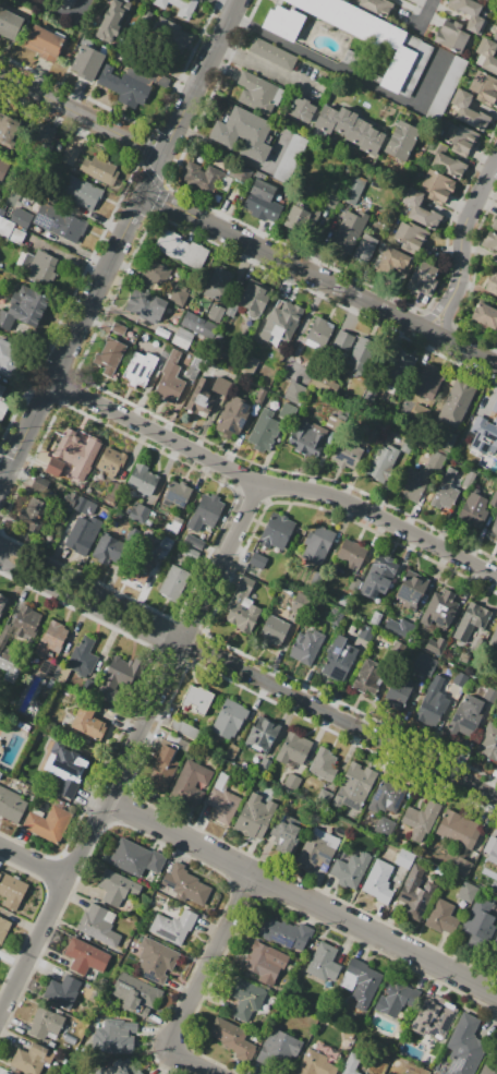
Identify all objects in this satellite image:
building: (403, 0)
building: (483, 0)
building: (68, 3)
building: (376, 7)
building: (177, 8)
road: (426, 9)
building: (496, 11)
building: (469, 14)
road: (58, 16)
building: (5, 21)
building: (110, 21)
building: (282, 22)
building: (495, 34)
building: (168, 35)
building: (368, 35)
building: (450, 36)
building: (45, 44)
building: (274, 53)
building: (486, 56)
building: (87, 62)
road: (260, 65)
road: (348, 74)
road: (199, 77)
building: (131, 87)
building: (484, 87)
building: (445, 90)
building: (256, 92)
building: (300, 109)
building: (469, 111)
road: (80, 116)
building: (350, 129)
building: (11, 133)
building: (243, 134)
building: (44, 135)
building: (460, 138)
building: (402, 141)
building: (70, 155)
building: (289, 157)
building: (448, 166)
building: (3, 168)
building: (98, 168)
building: (240, 172)
road: (151, 174)
building: (202, 176)
building: (436, 186)
building: (353, 190)
building: (81, 192)
building: (258, 195)
building: (330, 198)
road: (470, 208)
building: (271, 210)
building: (421, 210)
building: (21, 217)
building: (295, 217)
building: (59, 222)
building: (5, 227)
building: (496, 228)
building: (349, 231)
building: (410, 237)
building: (489, 241)
building: (364, 248)
building: (180, 249)
road: (282, 257)
building: (397, 261)
building: (496, 265)
building: (39, 266)
building: (154, 277)
building: (423, 278)
building: (218, 283)
building: (492, 286)
building: (179, 294)
road: (444, 298)
building: (255, 299)
road: (454, 301)
building: (146, 305)
building: (24, 309)
building: (230, 311)
building: (215, 312)
building: (485, 316)
building: (288, 317)
building: (198, 326)
building: (118, 328)
building: (319, 330)
building: (161, 333)
road: (74, 334)
building: (183, 339)
building: (341, 340)
road: (459, 342)
building: (166, 350)
building: (299, 350)
building: (361, 354)
building: (109, 355)
building: (8, 359)
building: (247, 364)
building: (141, 365)
building: (399, 367)
building: (192, 370)
building: (171, 376)
building: (429, 381)
building: (325, 383)
building: (222, 386)
building: (294, 391)
building: (259, 396)
building: (4, 398)
building: (201, 398)
building: (456, 403)
building: (288, 412)
building: (232, 415)
building: (417, 415)
building: (334, 423)
building: (495, 425)
building: (264, 431)
building: (308, 438)
building: (496, 438)
building: (446, 441)
building: (407, 446)
building: (70, 447)
building: (346, 452)
building: (492, 455)
building: (381, 461)
building: (111, 462)
building: (53, 467)
road: (2, 474)
building: (419, 478)
building: (142, 479)
building: (469, 479)
road: (2, 480)
building: (40, 484)
road: (271, 487)
building: (445, 491)
building: (177, 494)
building: (494, 500)
building: (473, 509)
building: (205, 512)
building: (140, 514)
building: (33, 515)
building: (81, 522)
building: (173, 524)
building: (493, 529)
building: (277, 531)
building: (195, 542)
building: (317, 544)
building: (165, 546)
building: (107, 548)
building: (191, 554)
building: (351, 554)
building: (257, 560)
building: (138, 562)
building: (378, 577)
building: (173, 583)
building: (353, 583)
building: (411, 590)
building: (343, 600)
building: (2, 602)
building: (300, 603)
building: (242, 606)
building: (439, 608)
building: (335, 616)
building: (474, 616)
building: (375, 618)
building: (22, 625)
building: (400, 627)
building: (274, 630)
building: (365, 632)
building: (461, 632)
building: (49, 638)
building: (494, 638)
building: (436, 644)
building: (306, 647)
building: (397, 650)
building: (83, 657)
building: (339, 659)
building: (10, 664)
building: (424, 664)
building: (50, 669)
building: (369, 676)
road: (247, 678)
building: (460, 678)
building: (117, 679)
building: (397, 692)
building: (489, 695)
building: (197, 699)
building: (429, 710)
building: (469, 714)
building: (230, 719)
building: (87, 721)
building: (184, 729)
building: (262, 735)
building: (488, 743)
building: (293, 749)
building: (231, 751)
road: (130, 752)
building: (264, 764)
building: (323, 764)
building: (66, 767)
building: (162, 770)
building: (292, 782)
building: (191, 783)
building: (354, 786)
building: (325, 796)
building: (386, 797)
building: (221, 800)
building: (11, 805)
building: (253, 816)
building: (420, 821)
building: (49, 822)
building: (385, 826)
building: (459, 830)
building: (286, 837)
building: (317, 848)
building: (494, 854)
building: (136, 858)
building: (404, 859)
road: (33, 862)
building: (461, 867)
building: (350, 870)
building: (478, 872)
building: (496, 874)
building: (378, 881)
building: (185, 884)
building: (116, 888)
building: (11, 891)
building: (468, 892)
building: (414, 897)
road: (301, 902)
building: (441, 917)
building: (478, 921)
building: (98, 925)
building: (172, 926)
building: (3, 928)
building: (287, 932)
building: (495, 946)
building: (85, 956)
building: (156, 960)
building: (265, 962)
building: (323, 962)
building: (361, 982)
building: (60, 987)
road: (195, 989)
building: (136, 994)
building: (395, 998)
building: (246, 999)
building: (426, 1014)
building: (443, 1021)
building: (45, 1022)
building: (114, 1037)
building: (232, 1038)
building: (282, 1042)
building: (463, 1047)
building: (29, 1059)
building: (489, 1063)
building: (315, 1064)
building: (351, 1064)
building: (120, 1067)
building: (3, 1073)

